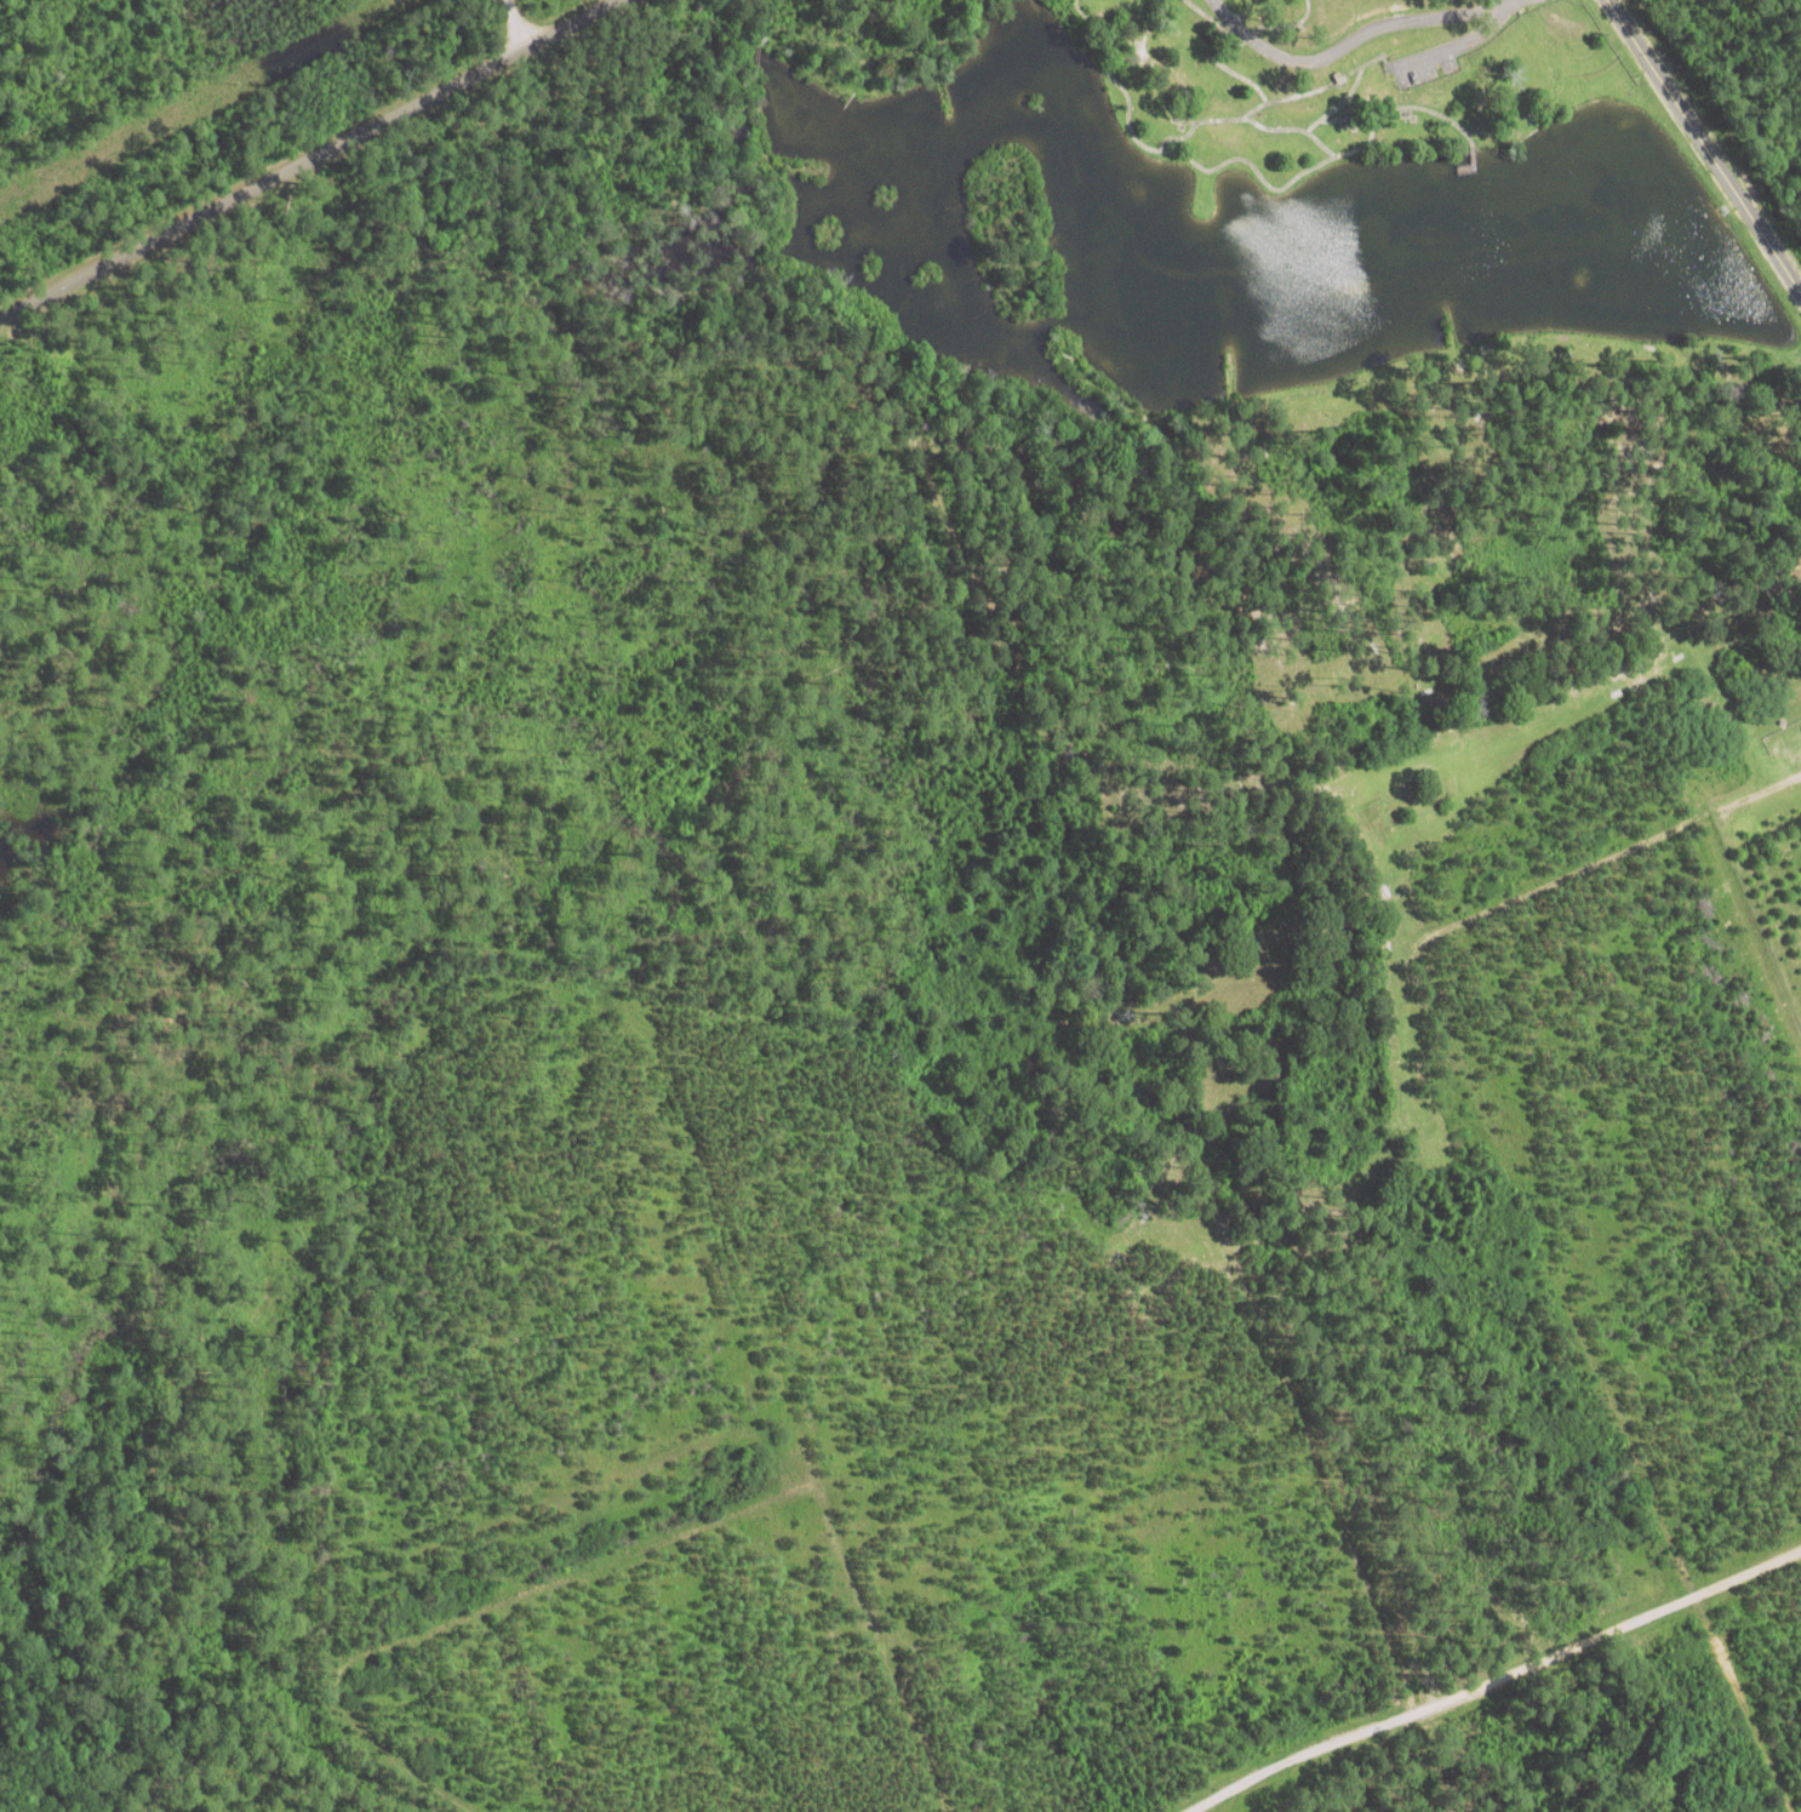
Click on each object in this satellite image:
road: (519, 23)
road: (1365, 38)
road: (1471, 42)
road: (1709, 142)
road: (310, 153)
park: (1166, 349)
road: (1762, 909)
road: (1510, 1189)
road: (1482, 1671)

